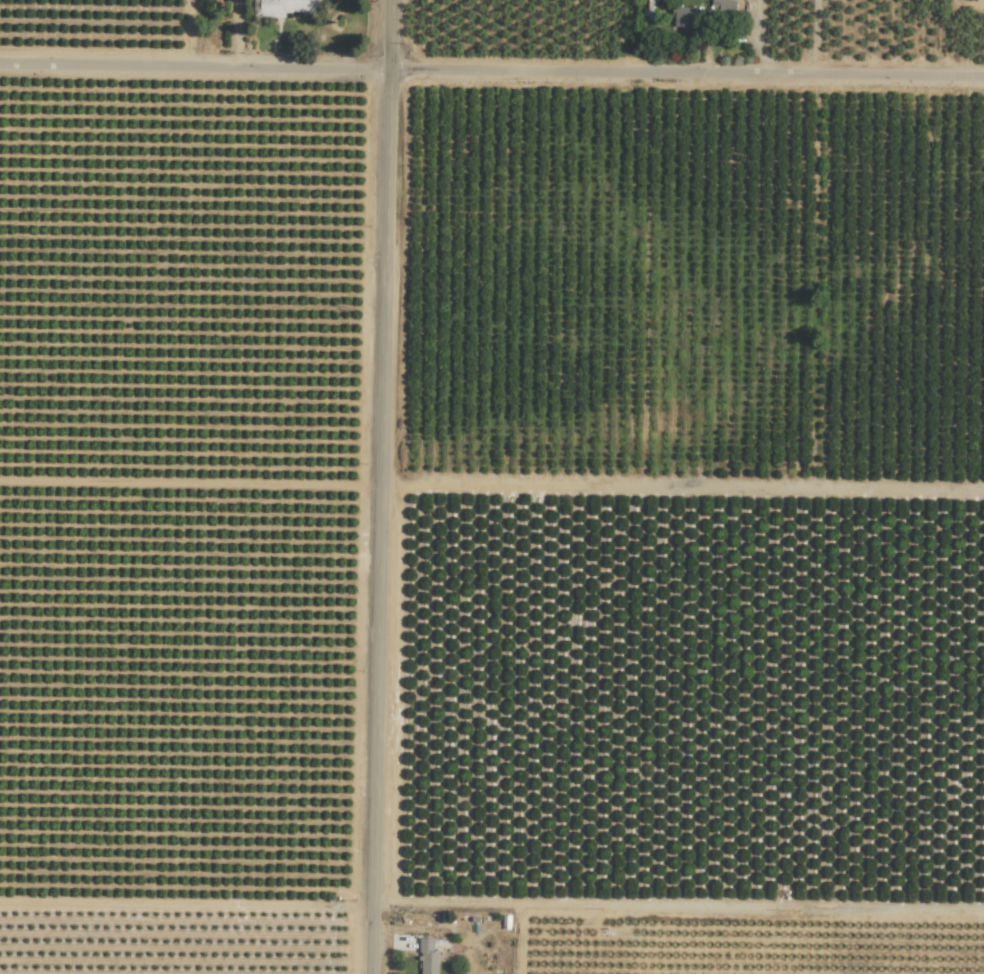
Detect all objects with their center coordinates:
building: (282, 7)
building: (651, 10)
building: (704, 12)
road: (491, 71)
road: (381, 486)
building: (428, 957)

